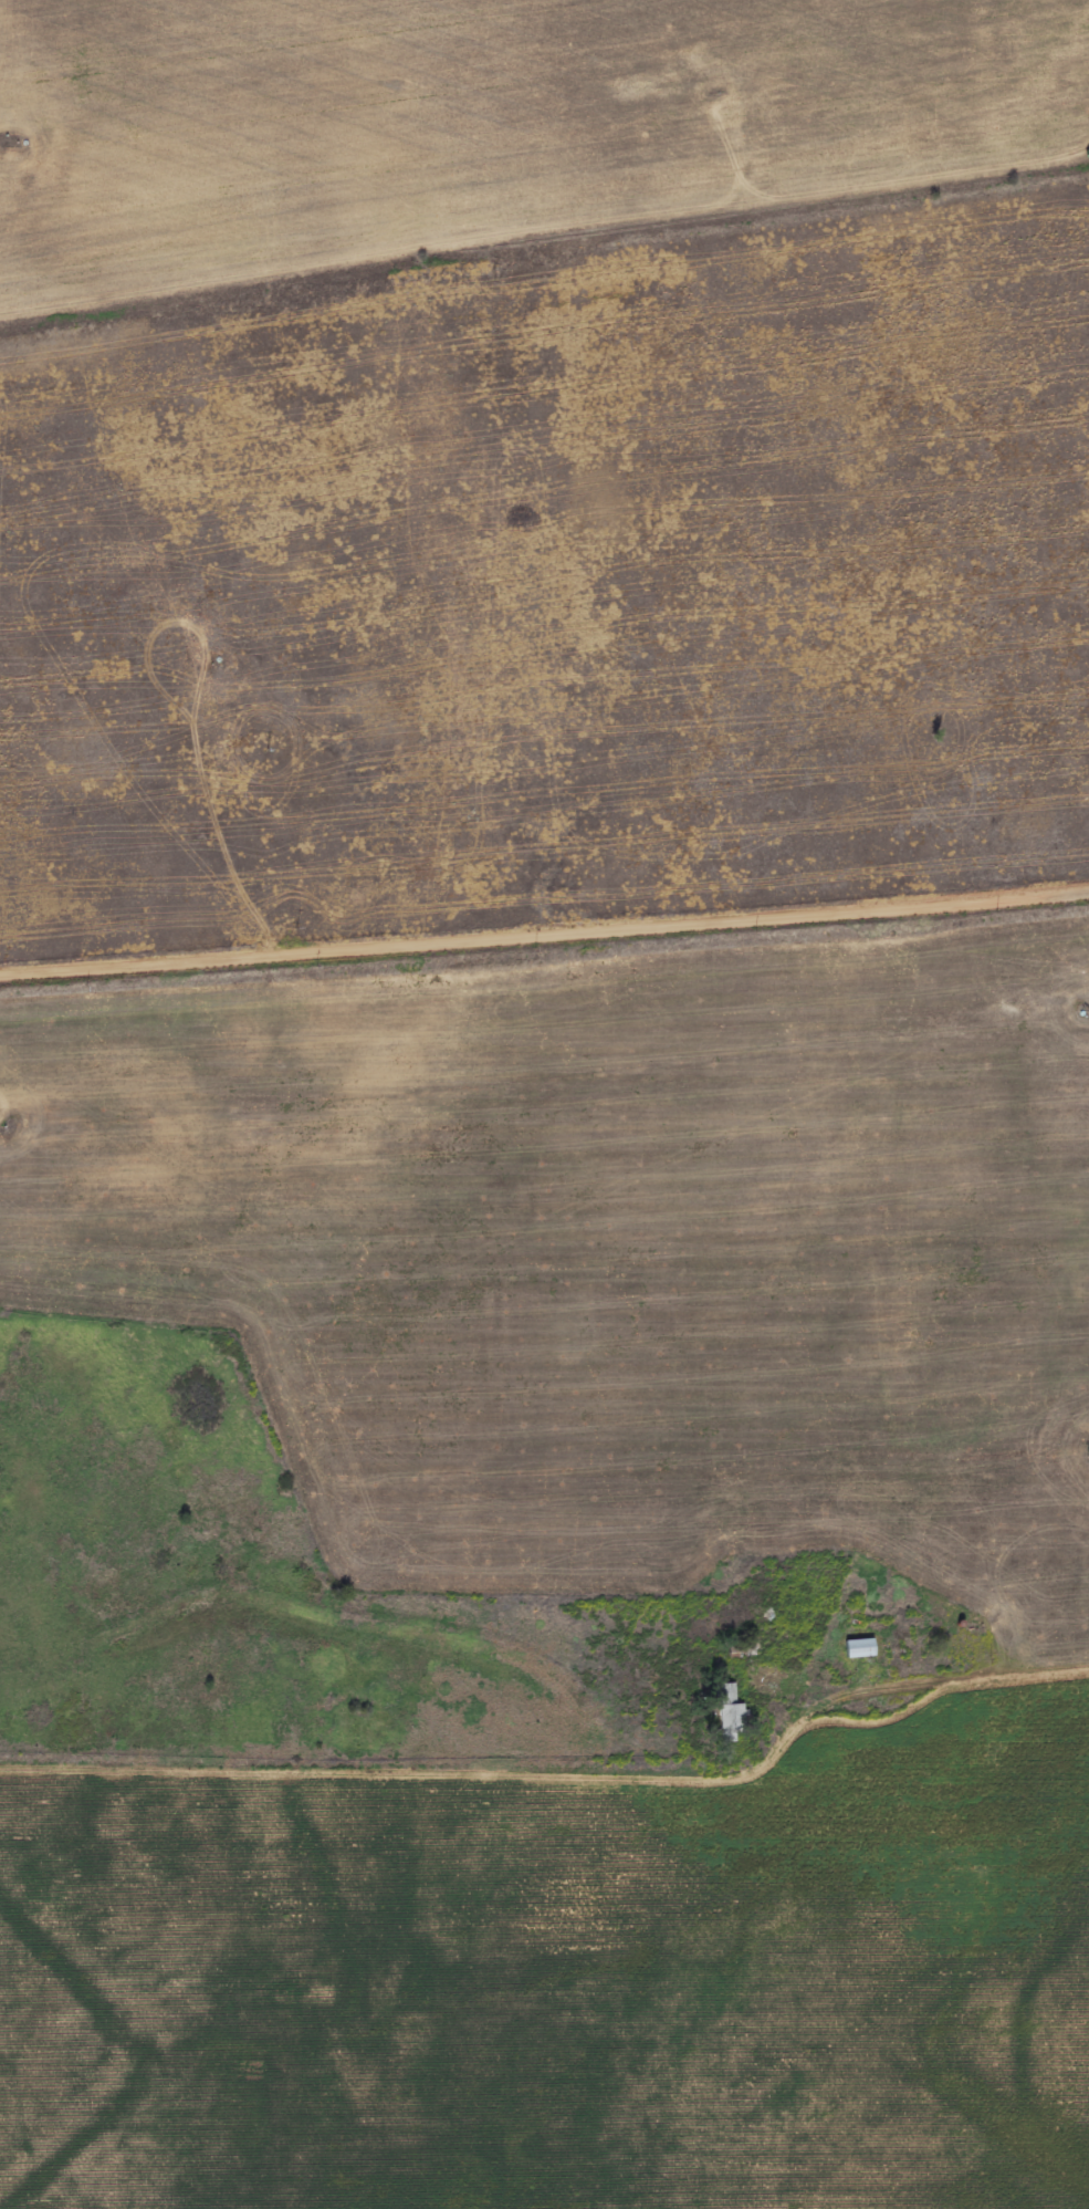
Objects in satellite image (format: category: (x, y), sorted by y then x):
road: (850, 633)
road: (544, 932)
building: (1086, 1431)
building: (862, 1647)
road: (919, 1682)
building: (732, 1713)

